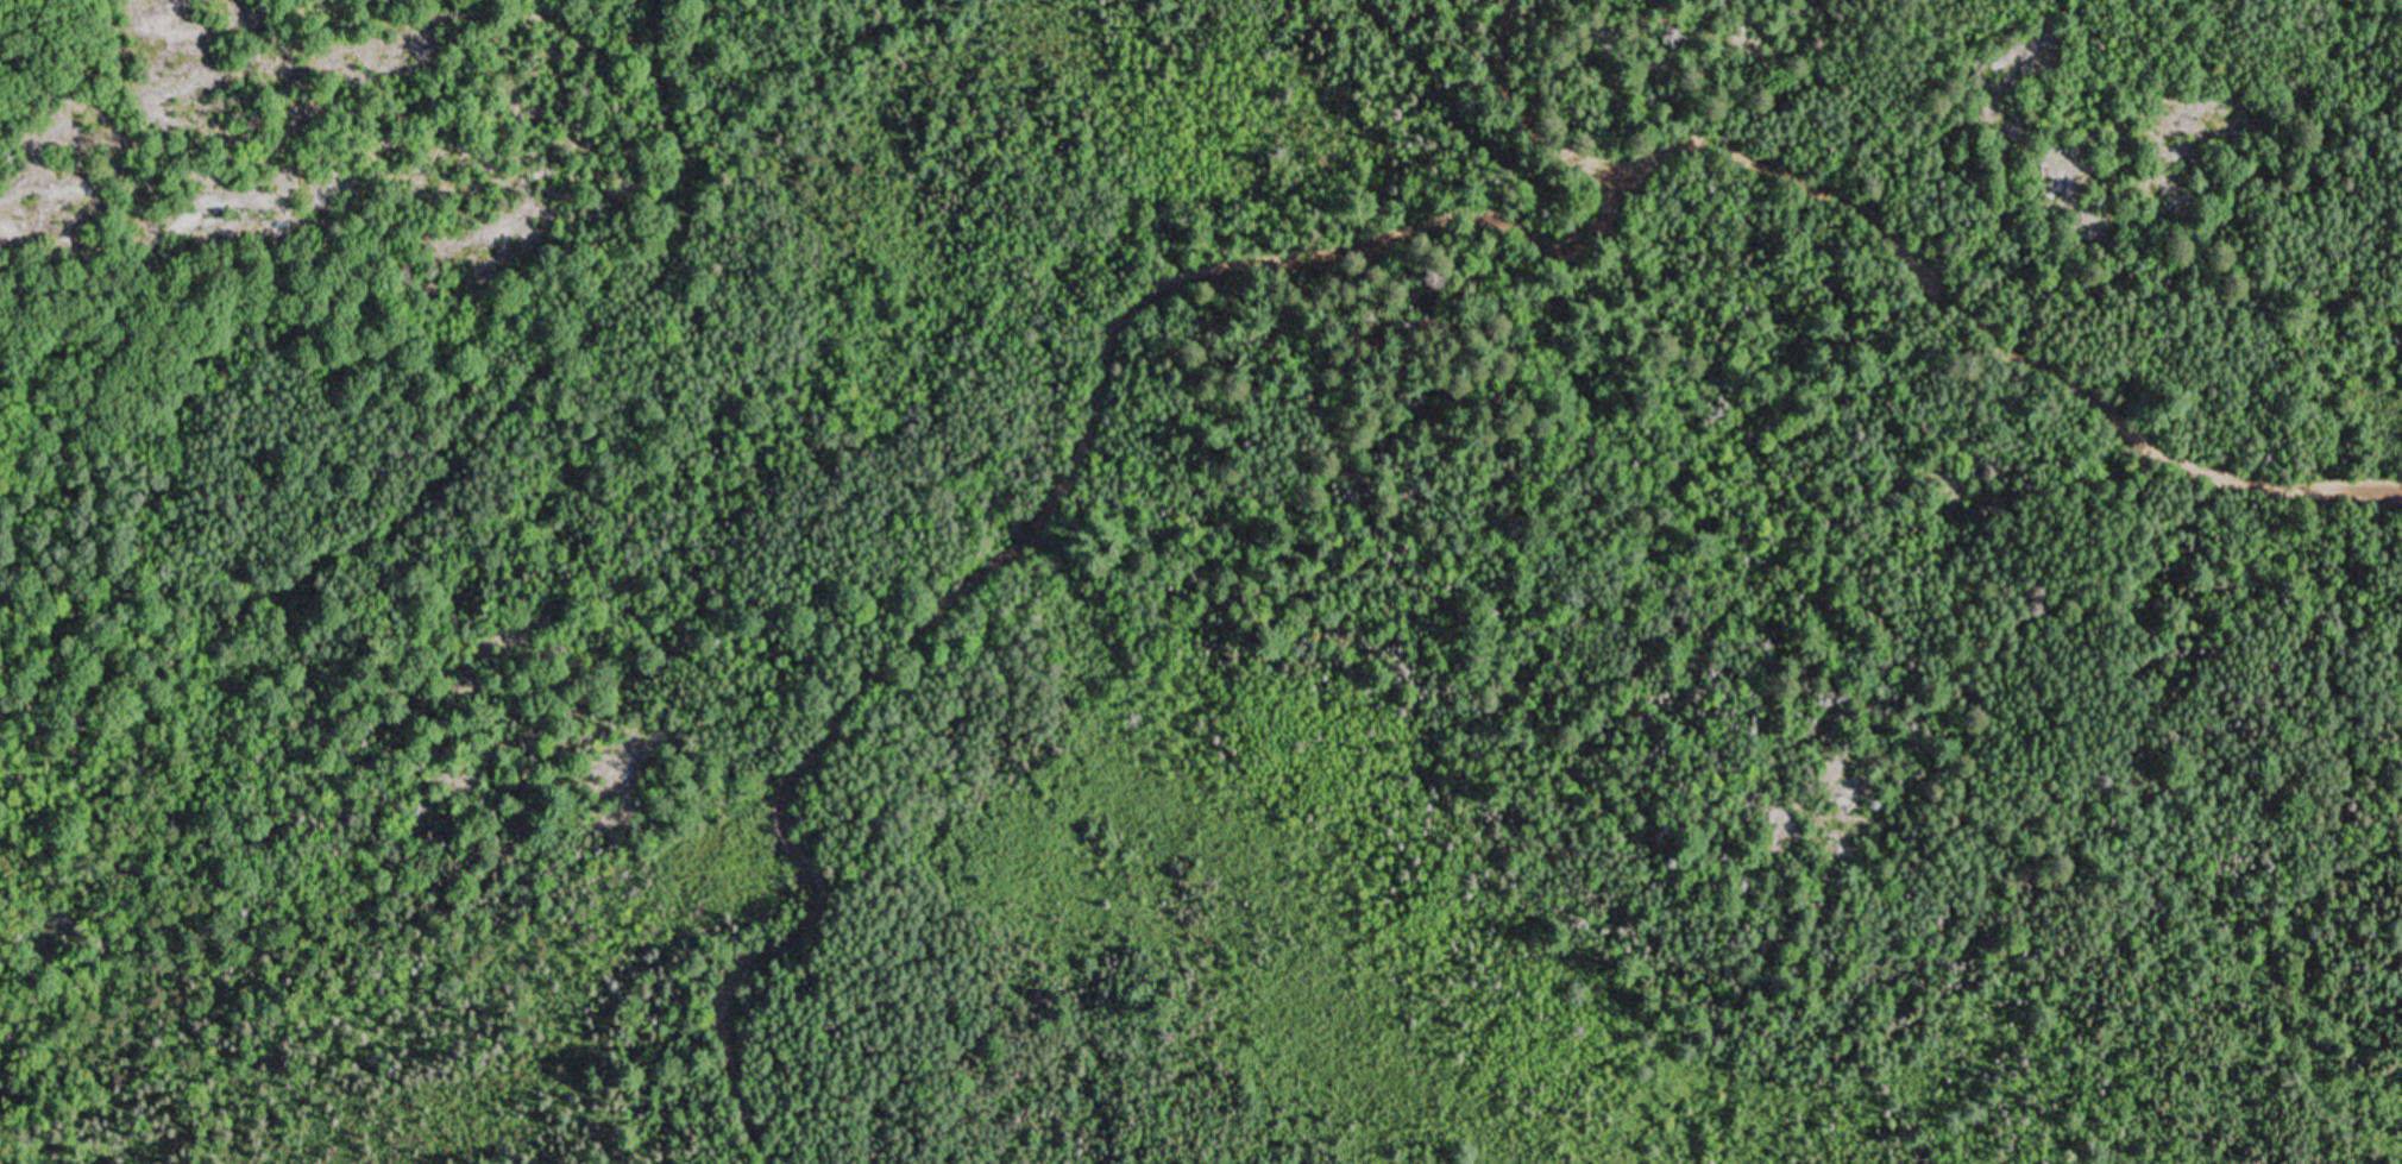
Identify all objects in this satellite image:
road: (1913, 258)
road: (1040, 526)

